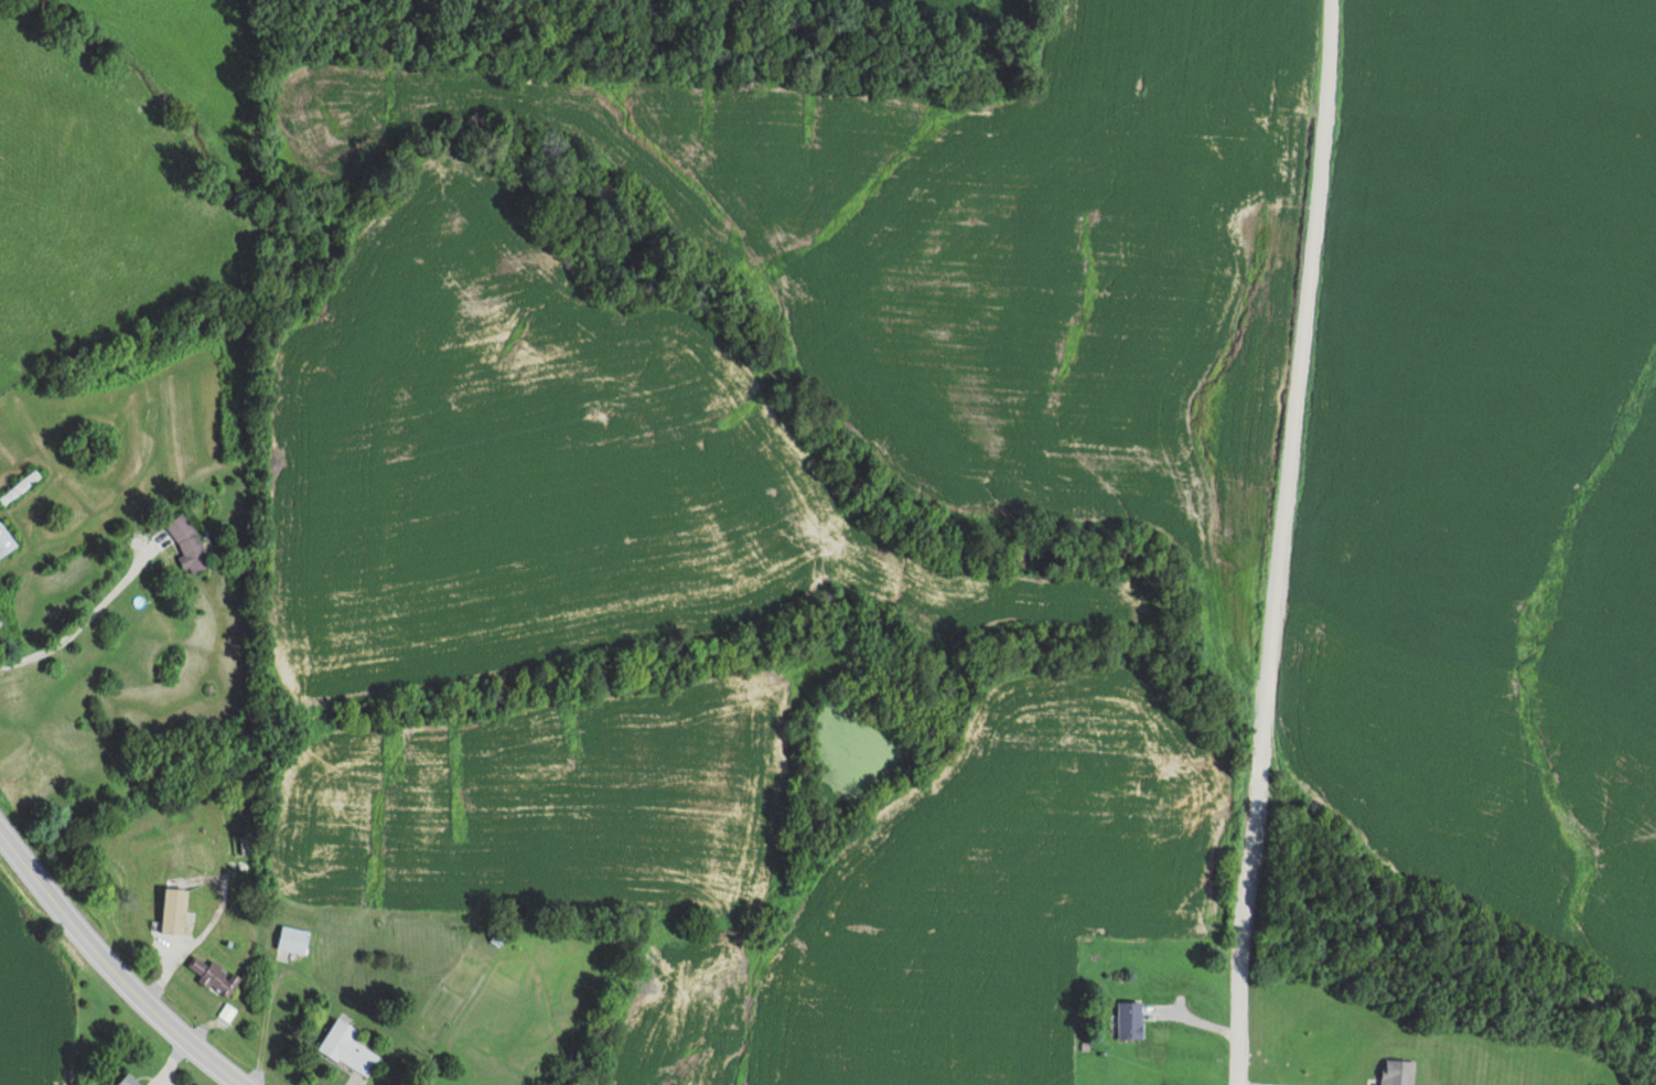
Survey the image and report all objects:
building: (20, 486)
building: (6, 540)
road: (1250, 541)
building: (190, 544)
building: (174, 910)
road: (201, 932)
building: (294, 938)
road: (112, 965)
building: (215, 975)
building: (1130, 1019)
building: (347, 1046)
building: (129, 1081)

